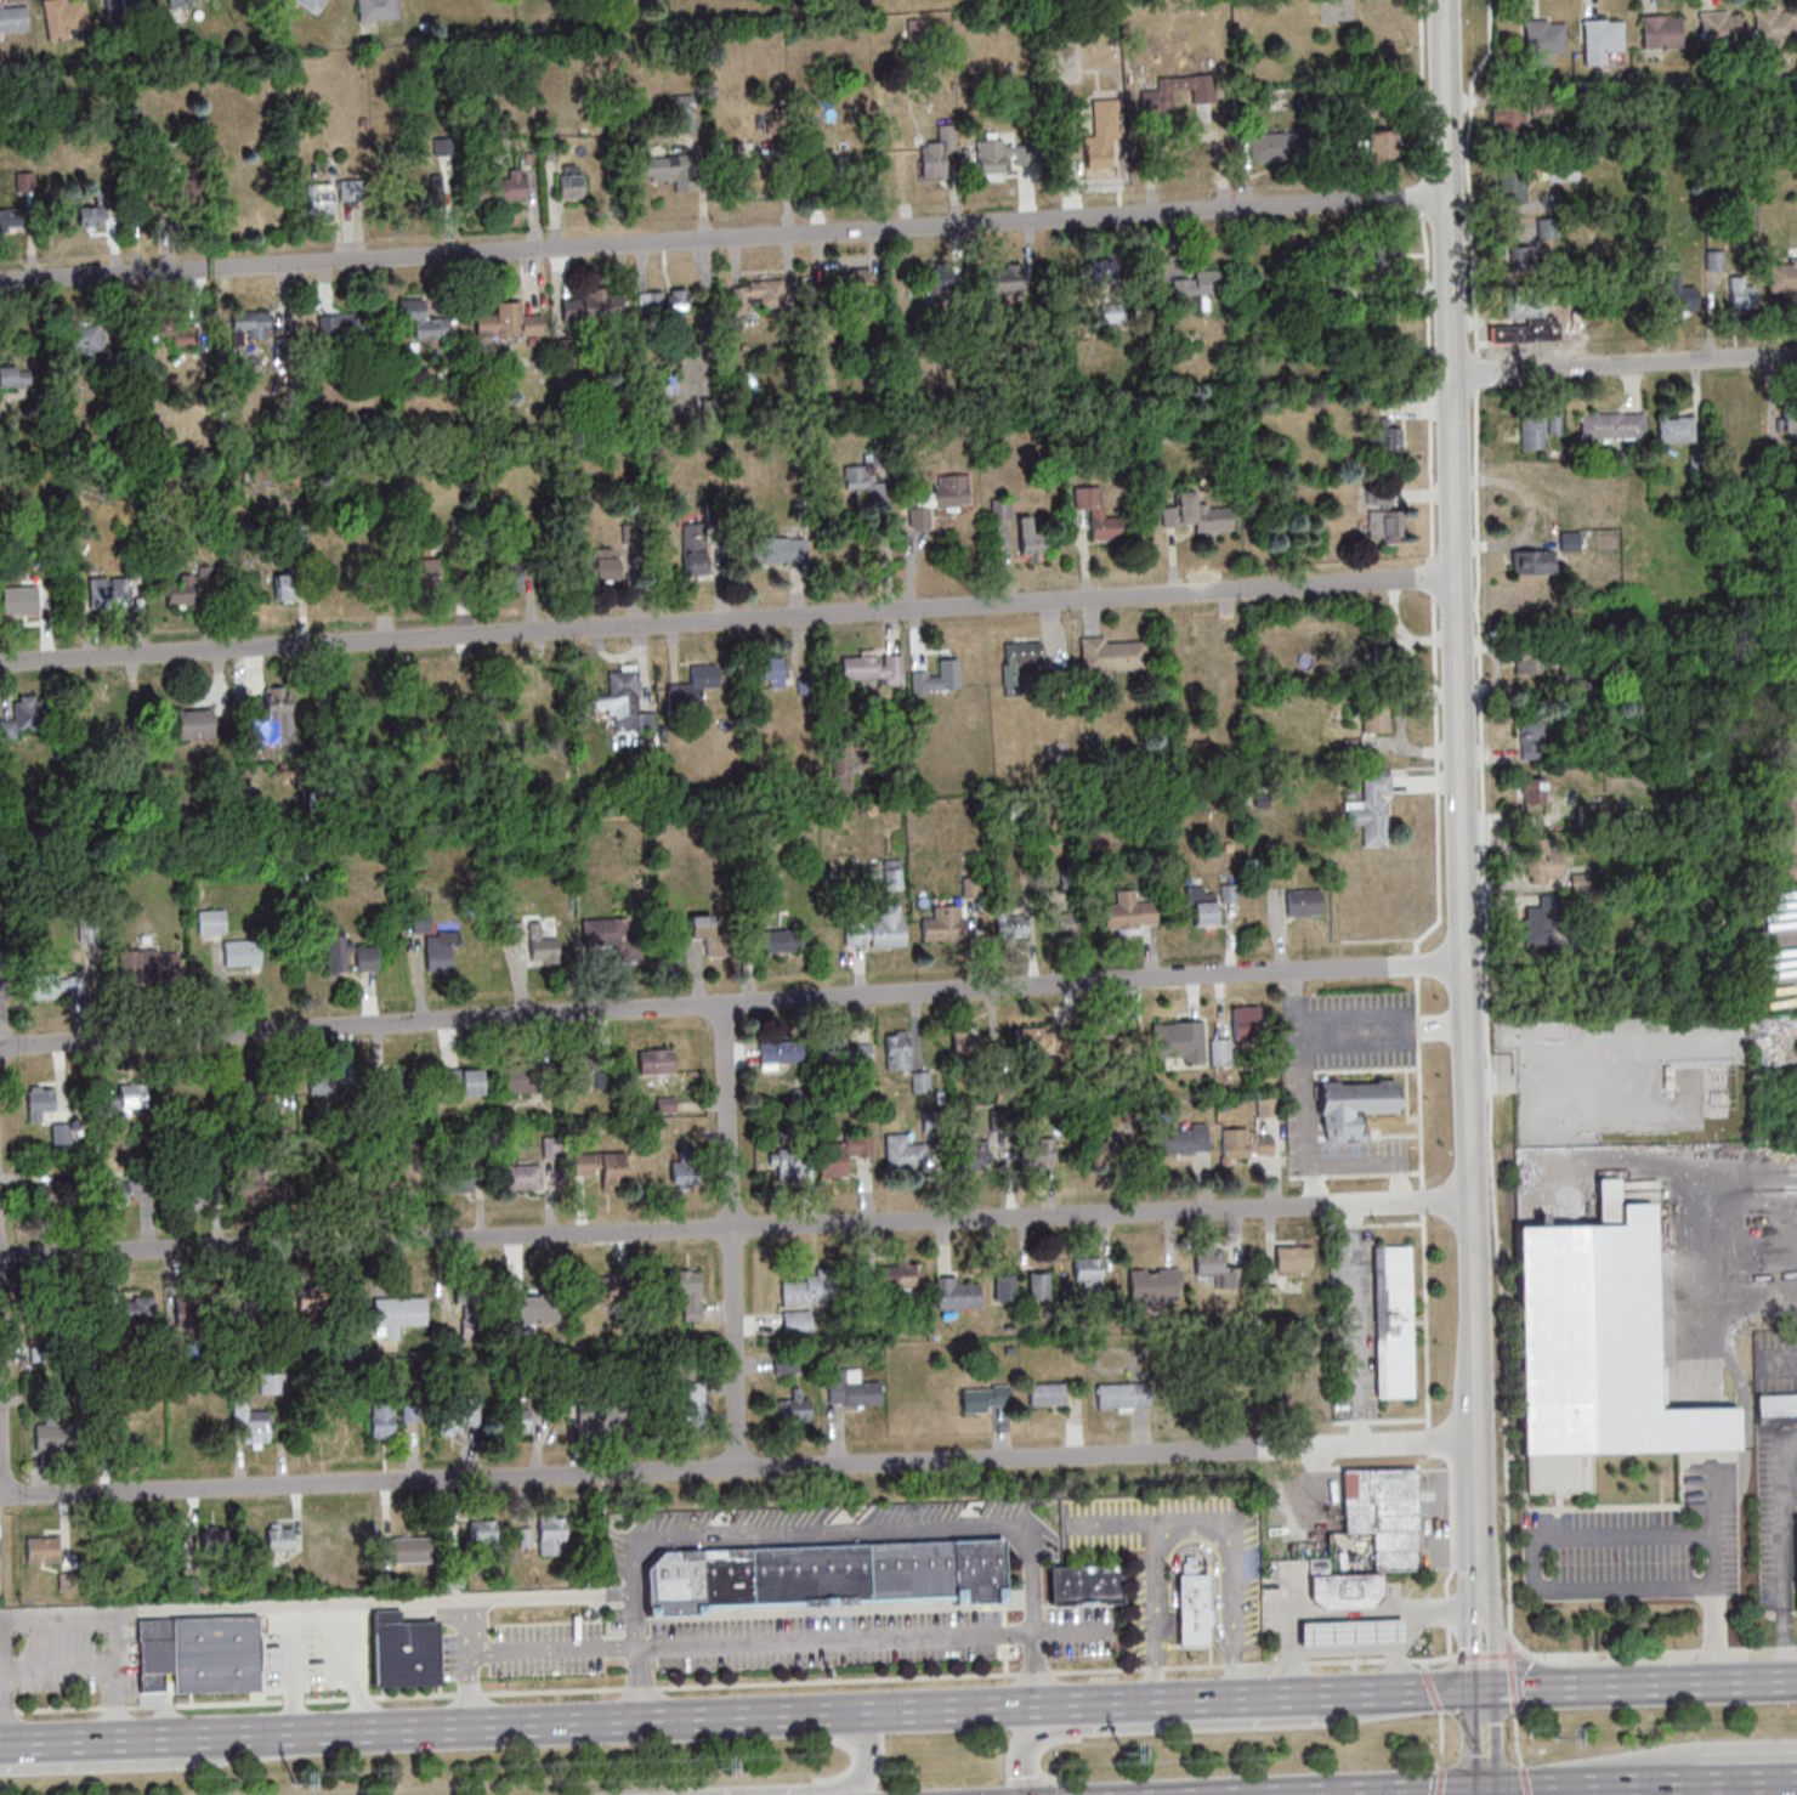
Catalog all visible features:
building: (175, 2)
building: (312, 5)
park: (915, 6)
building: (123, 7)
building: (373, 10)
building: (11, 17)
building: (61, 17)
building: (1770, 24)
building: (1716, 27)
building: (1656, 30)
building: (1599, 34)
building: (1538, 36)
building: (1151, 96)
building: (1162, 100)
building: (682, 115)
building: (1507, 120)
building: (1098, 132)
building: (1379, 145)
building: (1270, 146)
building: (991, 157)
building: (934, 160)
building: (832, 168)
building: (669, 171)
building: (755, 177)
building: (24, 181)
building: (569, 182)
building: (1513, 185)
building: (504, 187)
building: (347, 189)
building: (316, 197)
building: (432, 197)
building: (97, 214)
building: (8, 220)
road: (722, 237)
building: (1385, 257)
building: (1716, 259)
building: (1523, 260)
building: (1100, 271)
building: (1005, 278)
building: (1782, 279)
building: (936, 285)
building: (1197, 285)
building: (855, 291)
building: (1742, 291)
building: (759, 295)
building: (1679, 295)
building: (664, 302)
building: (588, 306)
building: (1113, 313)
building: (421, 318)
building: (508, 321)
building: (1524, 323)
building: (251, 324)
building: (339, 325)
building: (175, 330)
building: (84, 340)
road: (1622, 364)
building: (16, 373)
building: (670, 412)
building: (1790, 419)
building: (1554, 424)
building: (1612, 425)
building: (1738, 426)
building: (1676, 429)
building: (1531, 431)
building: (1393, 442)
building: (2, 449)
building: (237, 457)
building: (860, 476)
building: (939, 499)
building: (1000, 509)
building: (1100, 514)
building: (1191, 514)
building: (1384, 516)
building: (1032, 537)
building: (1570, 540)
building: (696, 549)
building: (778, 549)
building: (1532, 561)
building: (606, 568)
building: (423, 572)
building: (506, 576)
building: (339, 578)
building: (287, 588)
building: (181, 593)
building: (106, 594)
building: (17, 598)
road: (726, 618)
building: (1198, 640)
building: (1228, 646)
building: (1107, 653)
building: (1388, 655)
building: (1015, 659)
building: (1531, 662)
building: (869, 667)
building: (771, 669)
building: (937, 678)
building: (688, 687)
building: (431, 689)
building: (527, 690)
building: (620, 703)
building: (110, 710)
building: (272, 718)
building: (1376, 718)
building: (24, 719)
road: (1455, 720)
building: (195, 724)
building: (1534, 737)
building: (1534, 791)
building: (1371, 811)
building: (1543, 860)
building: (892, 873)
building: (1300, 901)
building: (1202, 908)
building: (1124, 911)
building: (1544, 913)
building: (208, 921)
building: (418, 921)
building: (1061, 922)
building: (941, 923)
building: (1007, 925)
building: (602, 930)
building: (882, 930)
building: (710, 932)
building: (855, 933)
building: (782, 941)
building: (542, 945)
building: (336, 950)
building: (438, 950)
building: (238, 952)
building: (368, 957)
building: (148, 964)
building: (51, 986)
road: (1298, 995)
road: (731, 1004)
road: (1362, 1015)
building: (1247, 1021)
road: (1434, 1026)
building: (966, 1041)
building: (1045, 1041)
building: (1177, 1041)
building: (1112, 1043)
road: (1365, 1043)
building: (896, 1049)
building: (1219, 1051)
building: (777, 1052)
building: (844, 1052)
building: (656, 1061)
building: (523, 1077)
building: (463, 1081)
building: (920, 1081)
building: (398, 1082)
building: (323, 1083)
building: (260, 1092)
building: (191, 1094)
building: (132, 1097)
building: (40, 1098)
building: (1353, 1103)
road: (1309, 1111)
building: (1178, 1139)
building: (1235, 1144)
building: (900, 1151)
building: (1099, 1151)
building: (839, 1154)
building: (1033, 1154)
building: (964, 1157)
building: (789, 1162)
road: (1370, 1162)
building: (603, 1163)
building: (684, 1172)
building: (518, 1176)
building: (452, 1179)
building: (382, 1180)
building: (268, 1185)
building: (119, 1189)
building: (52, 1196)
road: (732, 1225)
road: (731, 1235)
building: (1281, 1258)
building: (1212, 1268)
building: (1083, 1270)
building: (888, 1275)
building: (1143, 1280)
building: (1033, 1285)
building: (1000, 1286)
building: (806, 1287)
building: (590, 1289)
building: (690, 1291)
building: (951, 1293)
building: (313, 1306)
building: (131, 1309)
building: (231, 1309)
building: (187, 1312)
building: (521, 1312)
building: (393, 1314)
building: (1393, 1321)
building: (471, 1324)
building: (793, 1324)
road: (1359, 1324)
building: (1595, 1353)
building: (786, 1364)
building: (272, 1382)
building: (849, 1387)
building: (1043, 1394)
building: (1119, 1394)
building: (981, 1397)
building: (1776, 1404)
building: (692, 1405)
building: (793, 1406)
building: (602, 1416)
building: (381, 1420)
building: (525, 1420)
building: (457, 1422)
building: (319, 1425)
building: (255, 1429)
building: (187, 1432)
building: (57, 1437)
road: (737, 1465)
road: (2, 1506)
building: (1383, 1513)
road: (1190, 1516)
road: (879, 1528)
road: (1478, 1528)
building: (482, 1531)
building: (551, 1535)
building: (279, 1538)
building: (214, 1541)
building: (41, 1550)
building: (406, 1550)
road: (1781, 1550)
building: (1795, 1561)
road: (1531, 1562)
building: (820, 1576)
building: (1083, 1585)
building: (1337, 1587)
road: (549, 1596)
road: (290, 1604)
building: (1191, 1608)
road: (1336, 1612)
road: (1711, 1612)
road: (1413, 1623)
road: (469, 1624)
building: (1348, 1633)
road: (778, 1638)
road: (550, 1647)
road: (1518, 1647)
road: (1468, 1650)
road: (1493, 1650)
road: (1325, 1652)
building: (293, 1653)
road: (1661, 1654)
road: (1487, 1658)
road: (1395, 1661)
road: (1428, 1663)
road: (1344, 1664)
road: (1287, 1665)
road: (19, 1666)
road: (1232, 1666)
road: (1257, 1666)
road: (1423, 1666)
road: (1032, 1667)
road: (1192, 1669)
road: (1151, 1671)
road: (1095, 1672)
road: (110, 1676)
road: (1032, 1676)
road: (1510, 1676)
road: (837, 1683)
road: (1639, 1683)
traffic signals: (1481, 1688)
road: (1402, 1689)
road: (639, 1691)
road: (552, 1693)
road: (1430, 1693)
road: (1398, 1694)
road: (467, 1695)
road: (413, 1698)
road: (1194, 1698)
road: (358, 1700)
road: (304, 1703)
road: (209, 1705)
road: (1291, 1708)
road: (140, 1709)
road: (112, 1710)
road: (57, 1712)
road: (6, 1714)
road: (607, 1721)
road: (1198, 1723)
road: (1483, 1738)
power tower: (1553, 1738)
road: (1514, 1740)
road: (75, 1743)
road: (1440, 1743)
road: (1685, 1757)
power tower: (1124, 1759)
road: (153, 1763)
power tower: (715, 1773)
road: (1523, 1780)
road: (1439, 1782)
road: (1671, 1783)
power tower: (297, 1788)
road: (1515, 1788)
road: (1757, 1788)
road: (773, 1789)
traffic signals: (1484, 1789)
road: (1646, 1789)
road: (1706, 1789)
road: (1552, 1790)
road: (1598, 1790)
road: (1394, 1791)
road: (1484, 1791)
road: (1401, 1793)

